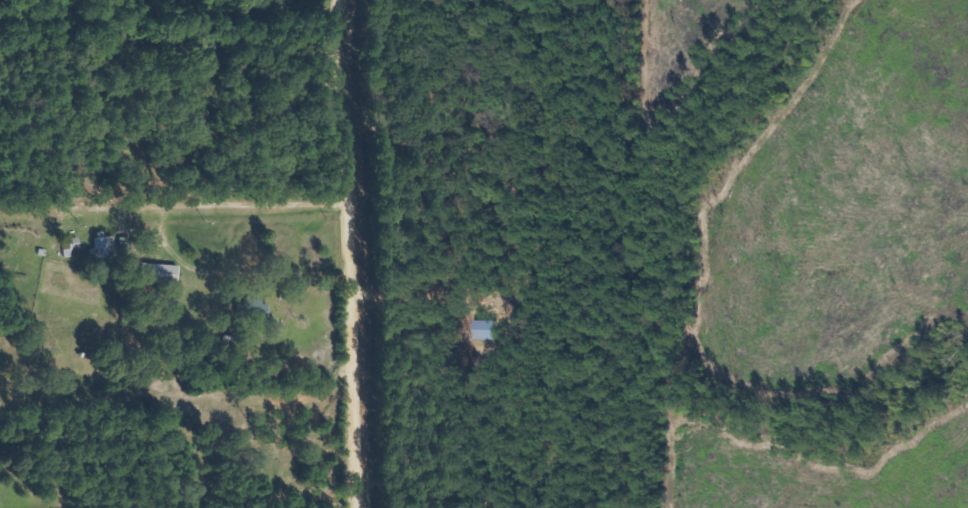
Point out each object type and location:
road: (158, 7)
road: (169, 14)
road: (171, 206)
road: (117, 213)
building: (67, 246)
building: (101, 246)
road: (343, 256)
building: (156, 273)
road: (337, 300)
building: (249, 309)
road: (171, 398)

